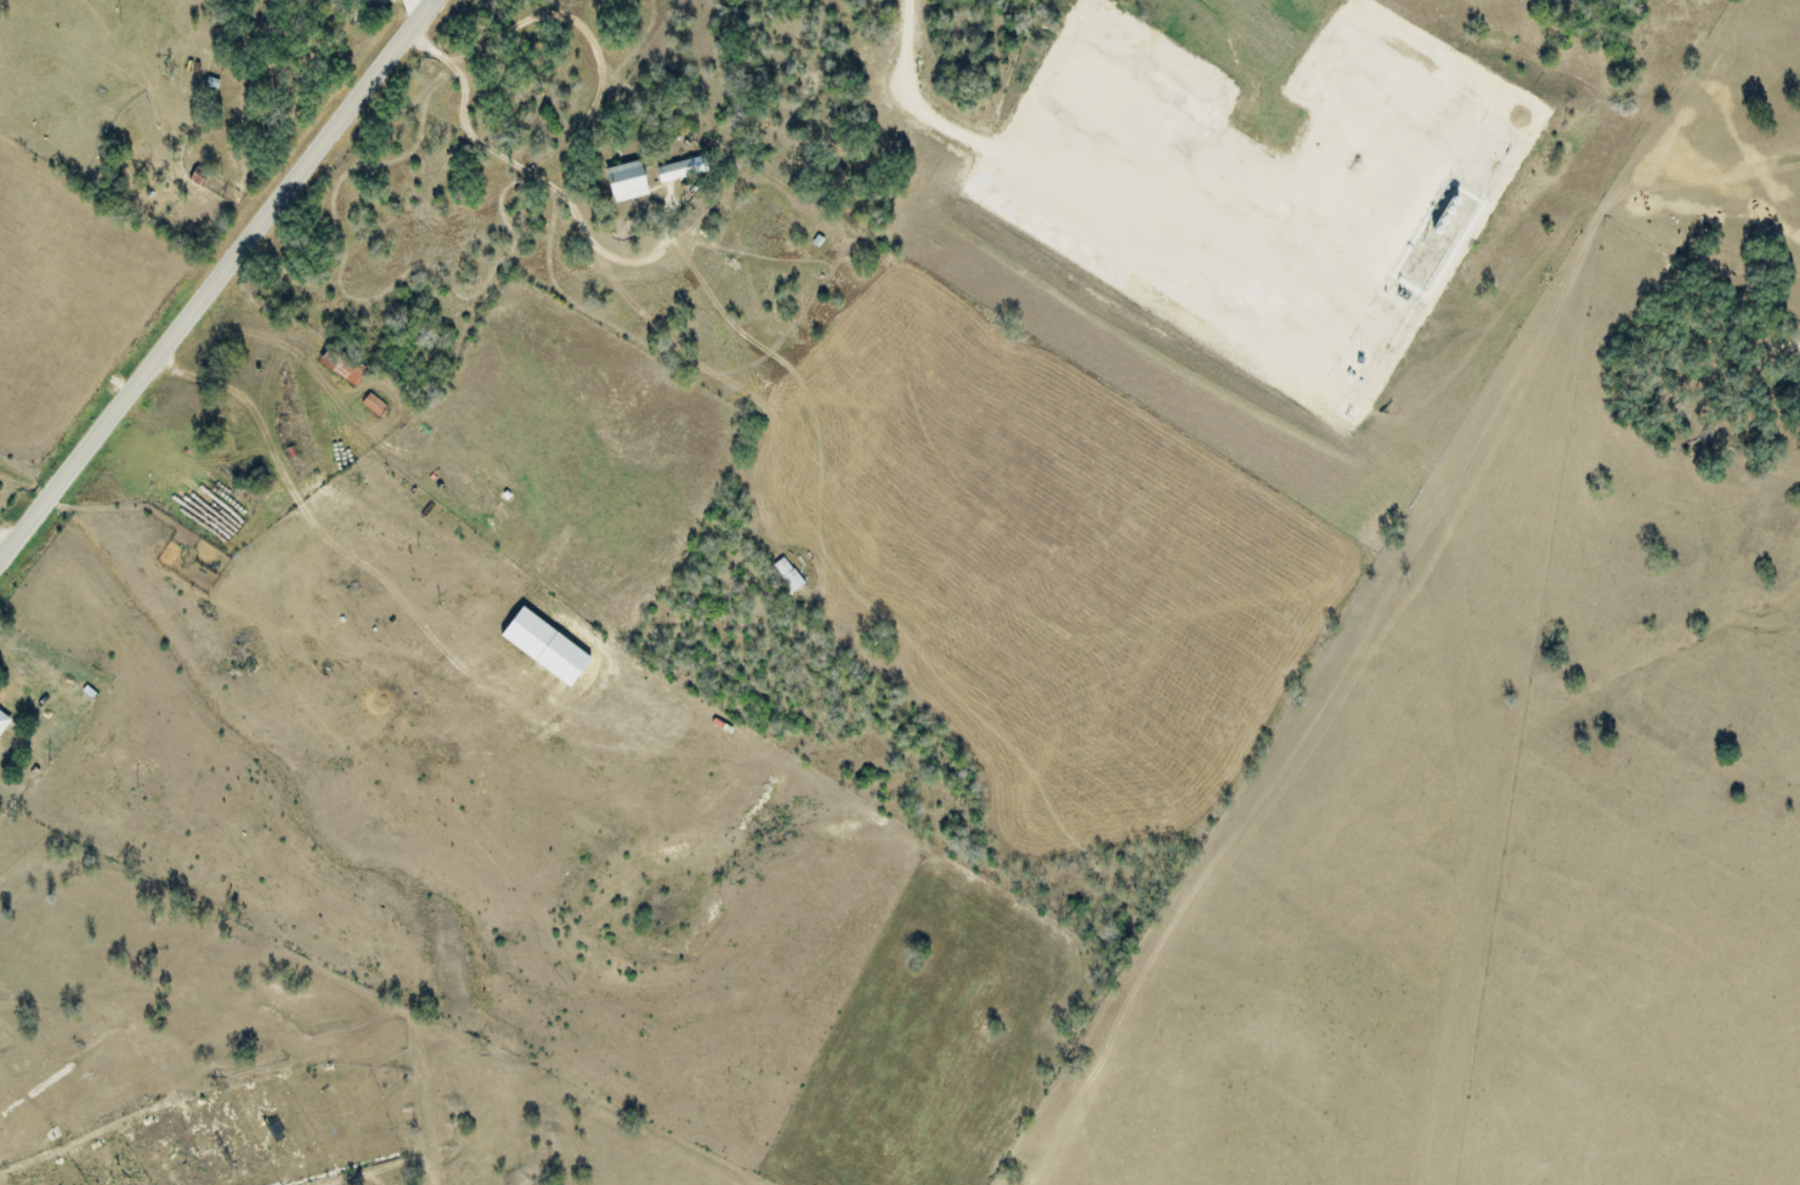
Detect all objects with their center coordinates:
road: (922, 118)
building: (683, 169)
building: (629, 181)
road: (214, 277)
building: (344, 367)
building: (374, 404)
building: (549, 647)
building: (4, 721)

